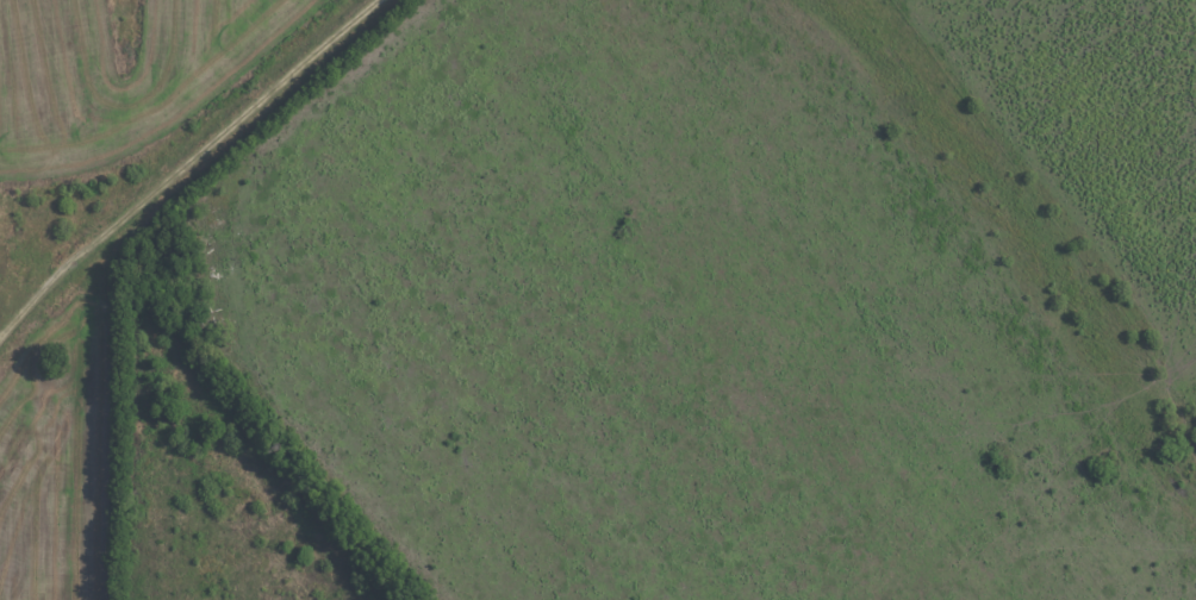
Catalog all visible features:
road: (183, 169)

